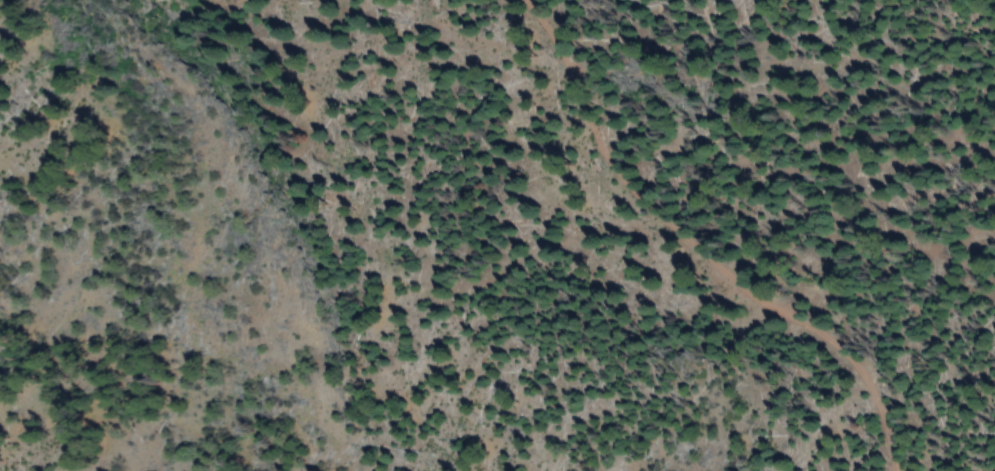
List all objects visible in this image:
road: (703, 251)

